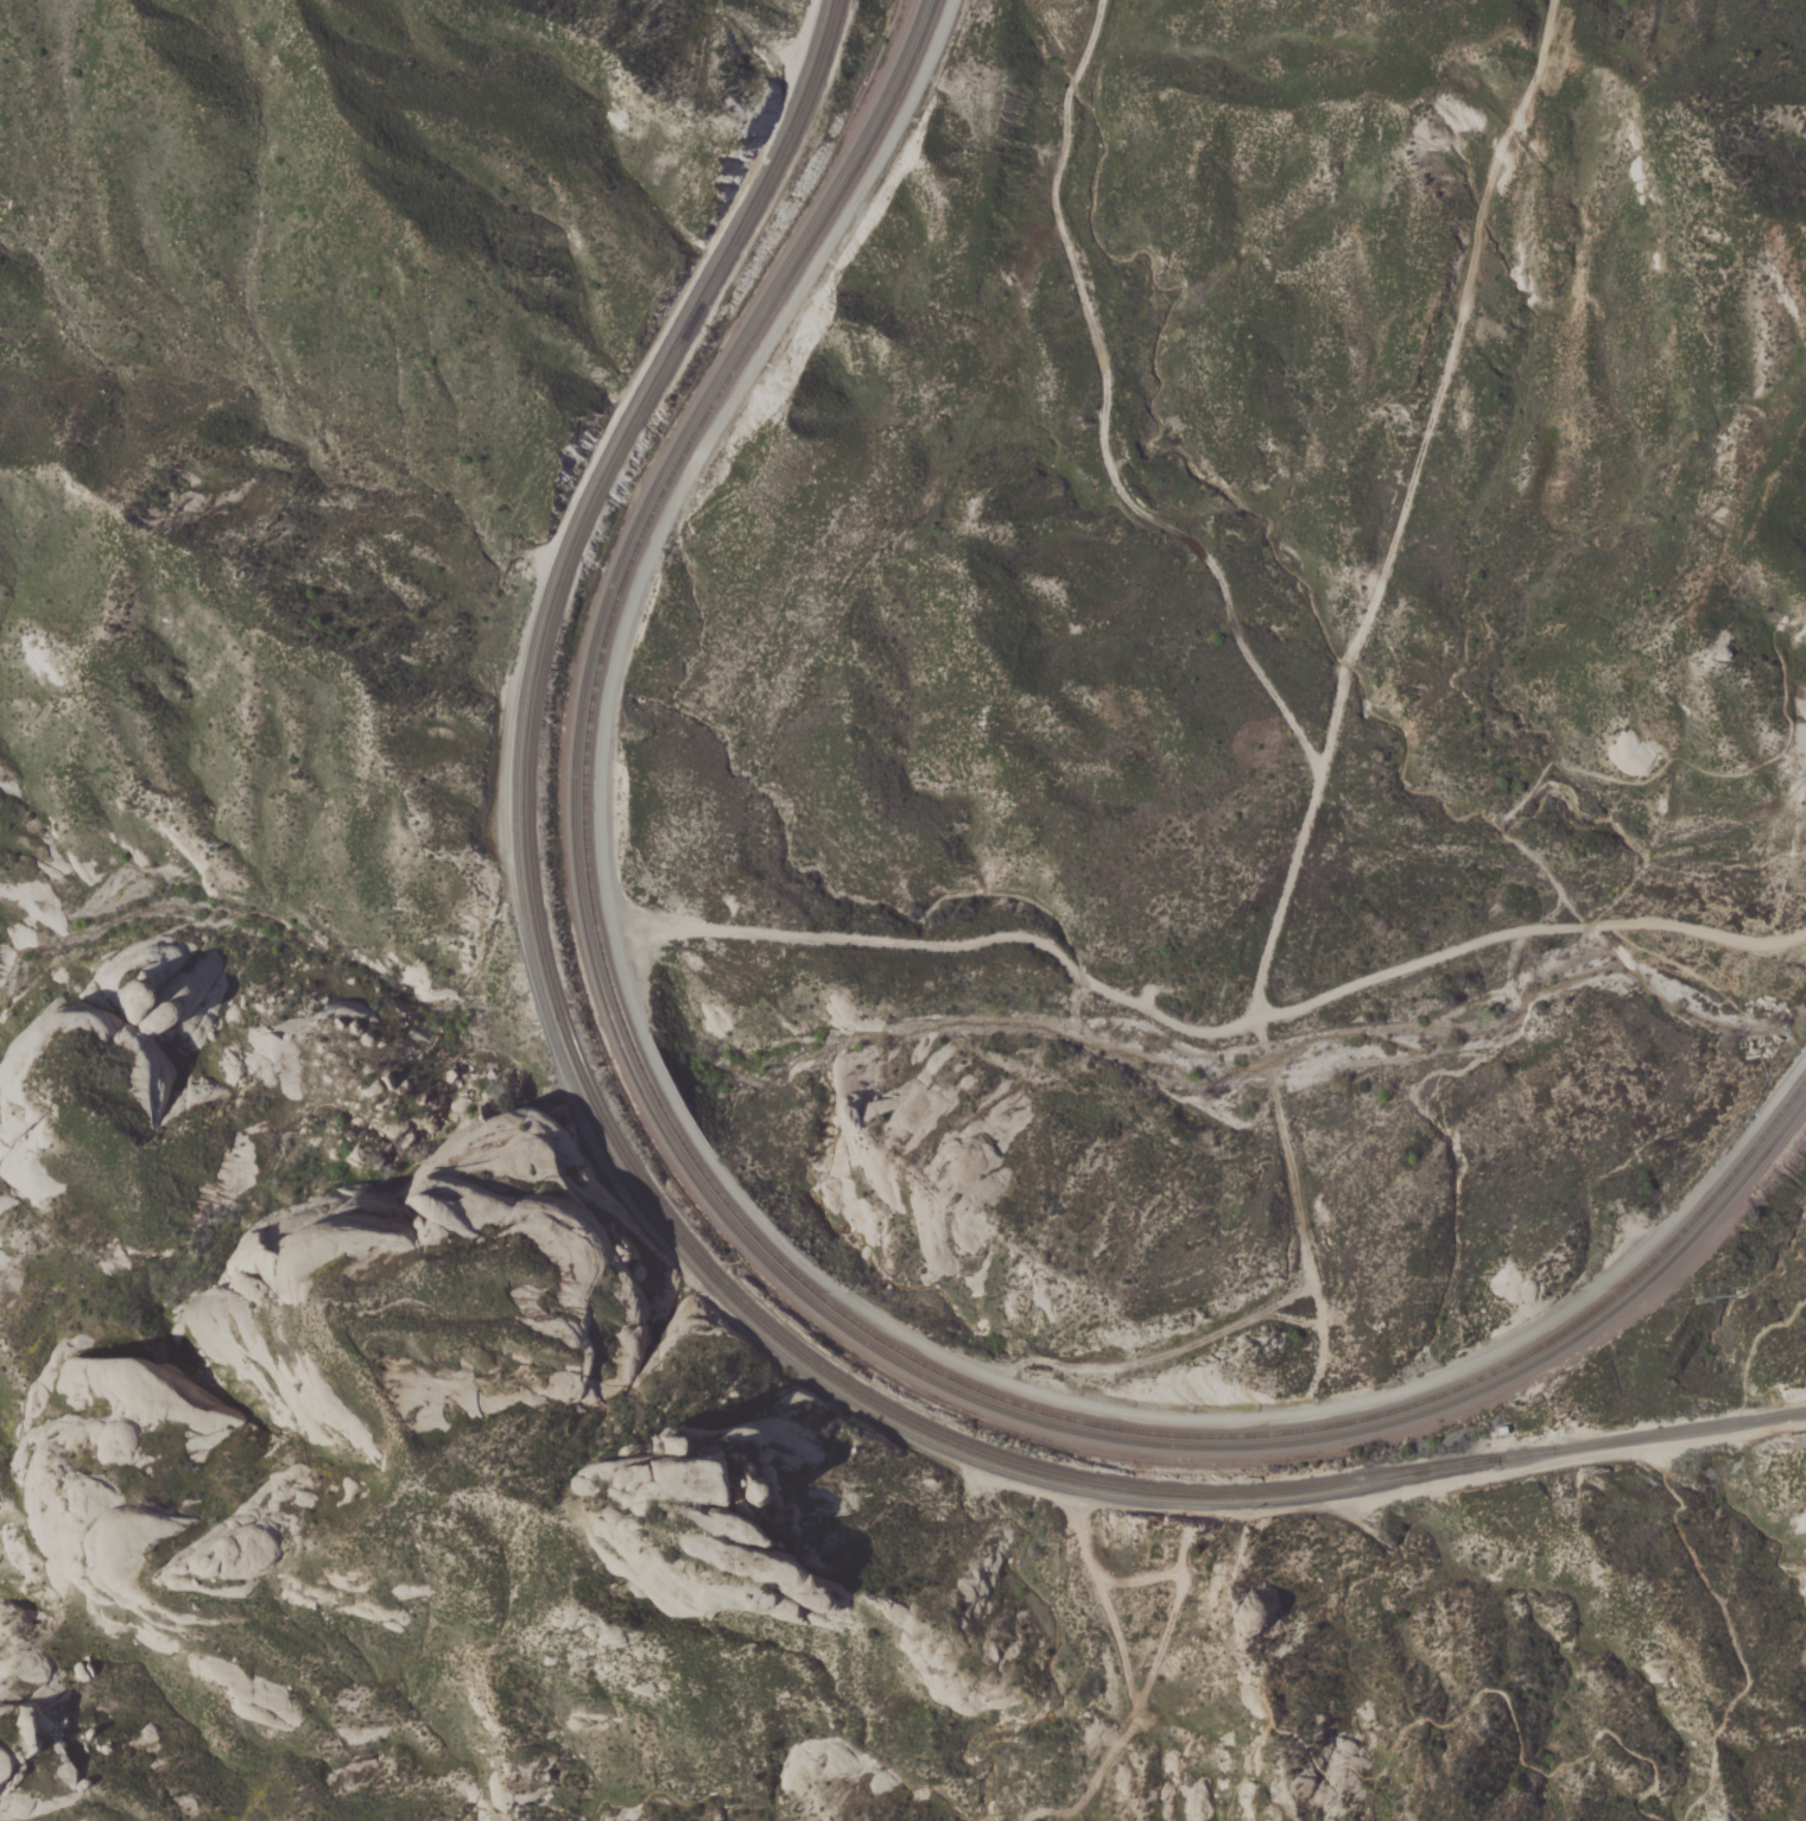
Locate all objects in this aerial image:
railway: (857, 146)
railway: (867, 150)
road: (1438, 386)
road: (1308, 756)
road: (1542, 776)
road: (1129, 1002)
railway: (557, 1053)
road: (729, 1179)
railway: (640, 1181)
railway: (829, 1302)
railway: (817, 1307)
road: (1155, 1356)
road: (1336, 1502)
road: (1683, 1540)
road: (1128, 1686)
road: (1465, 1713)

